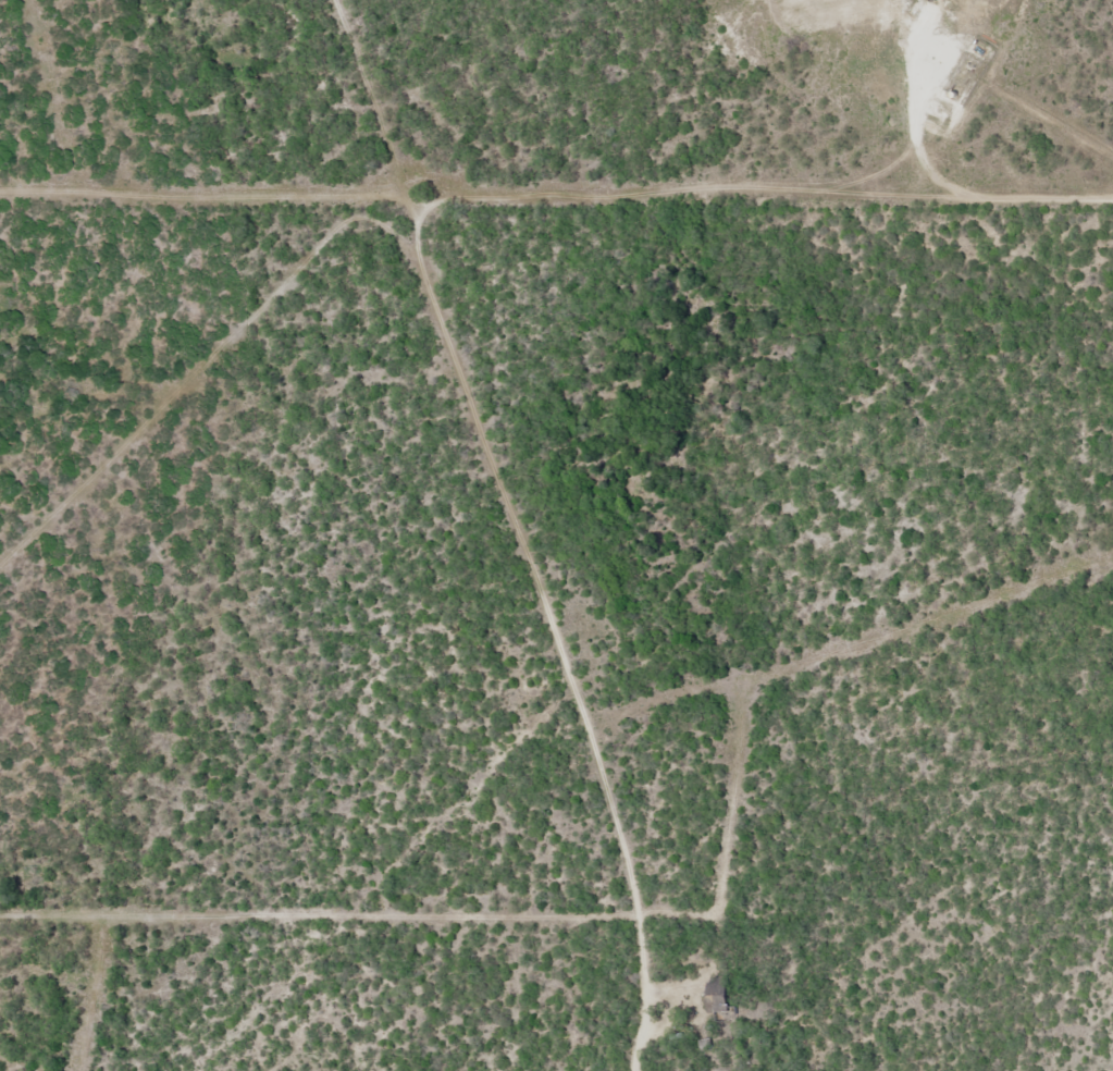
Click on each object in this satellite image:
building: (716, 997)
road: (642, 1034)

